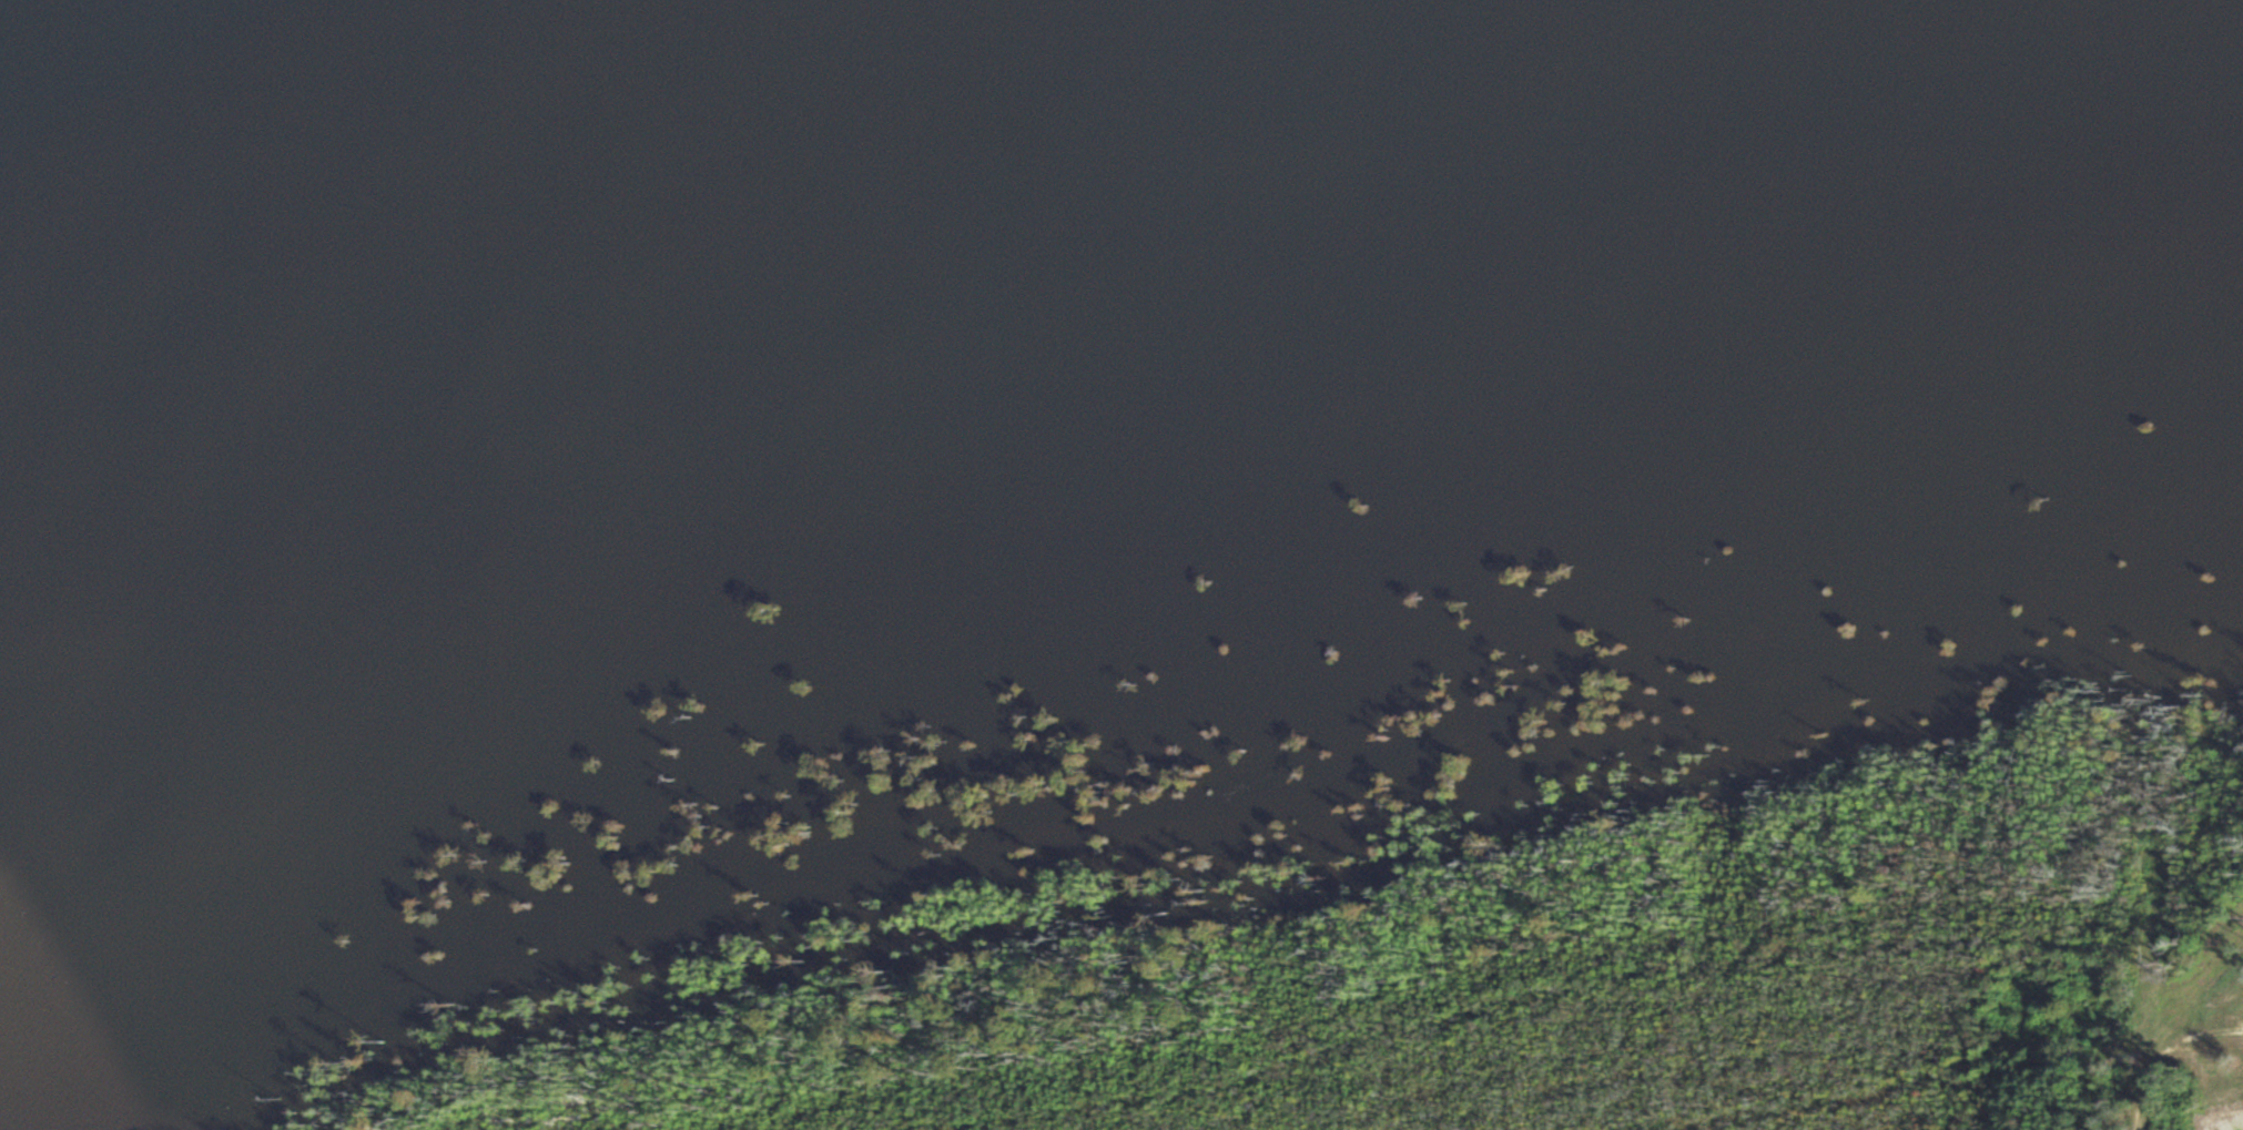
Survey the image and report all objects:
road: (2163, 1048)
crop: (2221, 1118)

